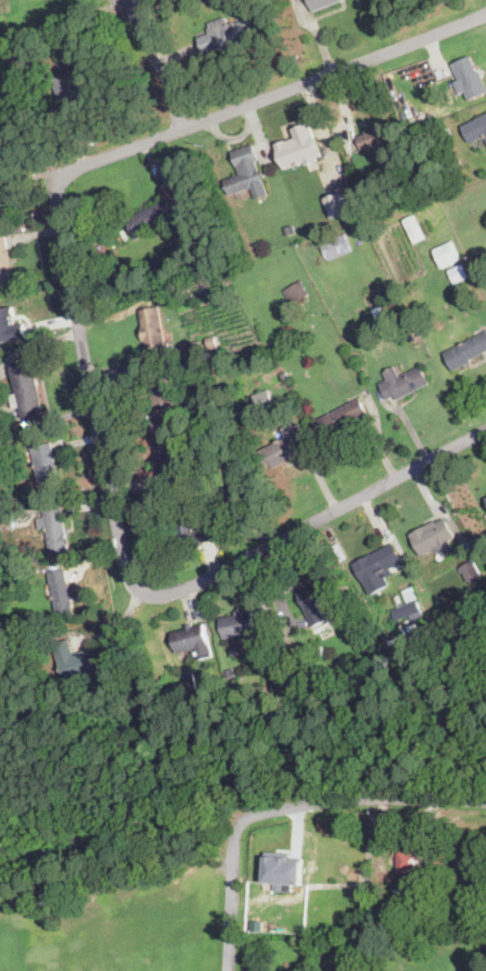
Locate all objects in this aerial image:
building: (322, 3)
building: (227, 34)
building: (25, 59)
road: (161, 64)
building: (469, 79)
building: (73, 83)
building: (475, 129)
building: (377, 136)
building: (448, 137)
building: (299, 148)
road: (73, 170)
building: (247, 173)
building: (337, 205)
building: (159, 216)
building: (415, 228)
building: (290, 230)
building: (336, 245)
building: (447, 254)
building: (480, 258)
building: (5, 263)
building: (458, 273)
building: (297, 292)
building: (198, 303)
building: (378, 310)
building: (381, 319)
building: (10, 325)
building: (155, 332)
building: (213, 342)
road: (36, 344)
building: (466, 351)
building: (225, 362)
building: (285, 375)
building: (403, 382)
building: (279, 384)
building: (27, 390)
building: (164, 398)
building: (263, 399)
building: (287, 399)
building: (196, 404)
building: (341, 417)
road: (40, 421)
building: (281, 451)
building: (174, 460)
building: (45, 463)
building: (204, 467)
building: (485, 493)
building: (230, 495)
road: (318, 520)
building: (6, 521)
building: (188, 527)
building: (54, 528)
building: (435, 537)
building: (378, 563)
building: (471, 573)
building: (410, 593)
building: (62, 594)
building: (320, 598)
building: (409, 611)
road: (115, 622)
building: (245, 626)
building: (193, 640)
building: (433, 644)
building: (236, 650)
building: (314, 655)
building: (73, 660)
building: (231, 673)
building: (189, 677)
road: (288, 807)
building: (467, 860)
building: (410, 865)
building: (282, 870)
building: (381, 883)
building: (392, 884)
building: (428, 888)
building: (363, 893)
building: (441, 913)
building: (405, 926)

